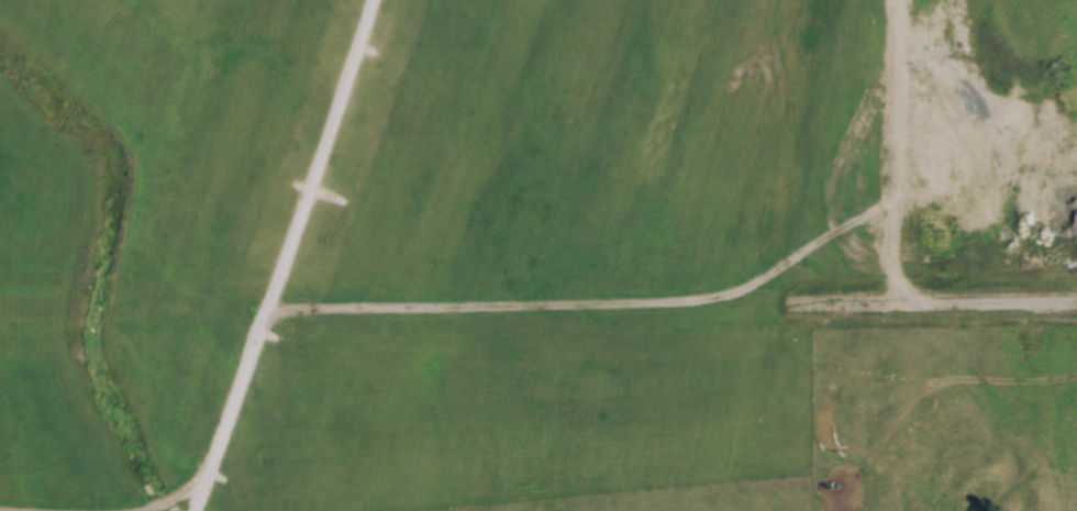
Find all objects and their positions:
road: (885, 152)
airport: (500, 240)
road: (930, 301)

